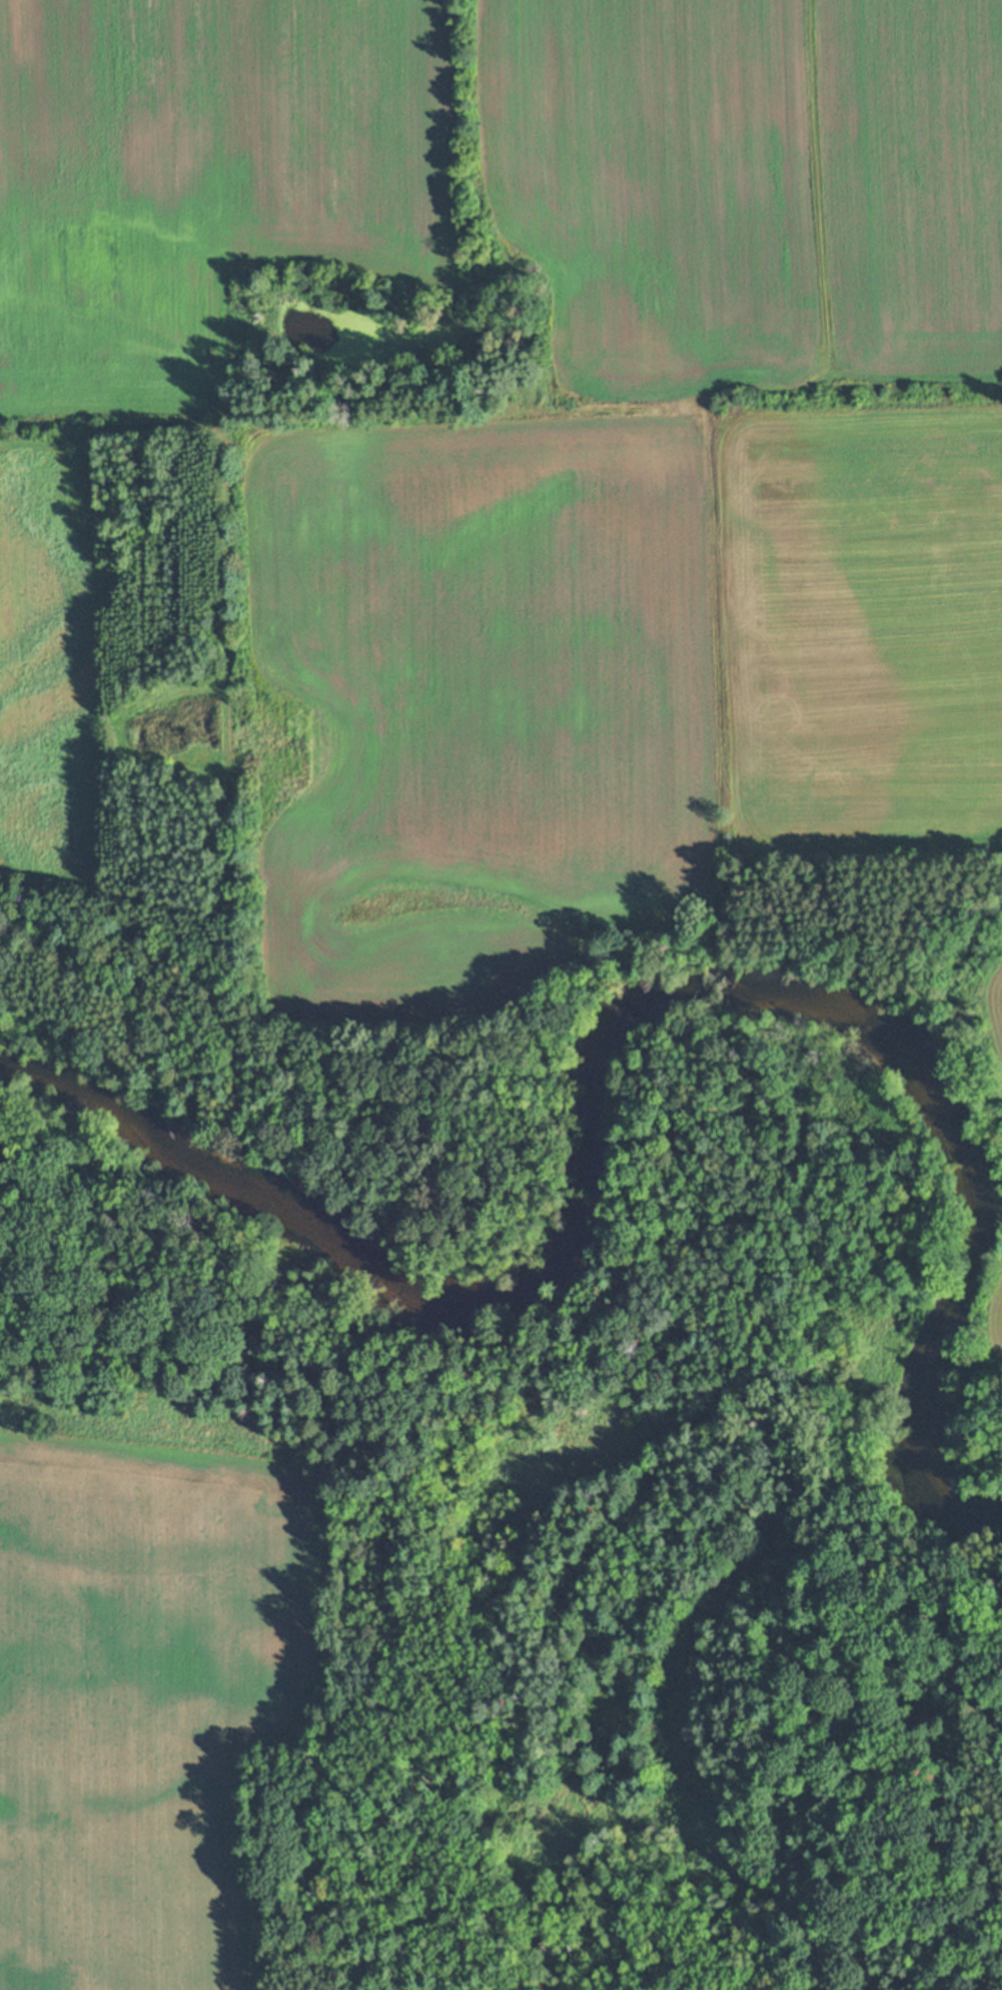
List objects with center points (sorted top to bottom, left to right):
river: (615, 1063)

